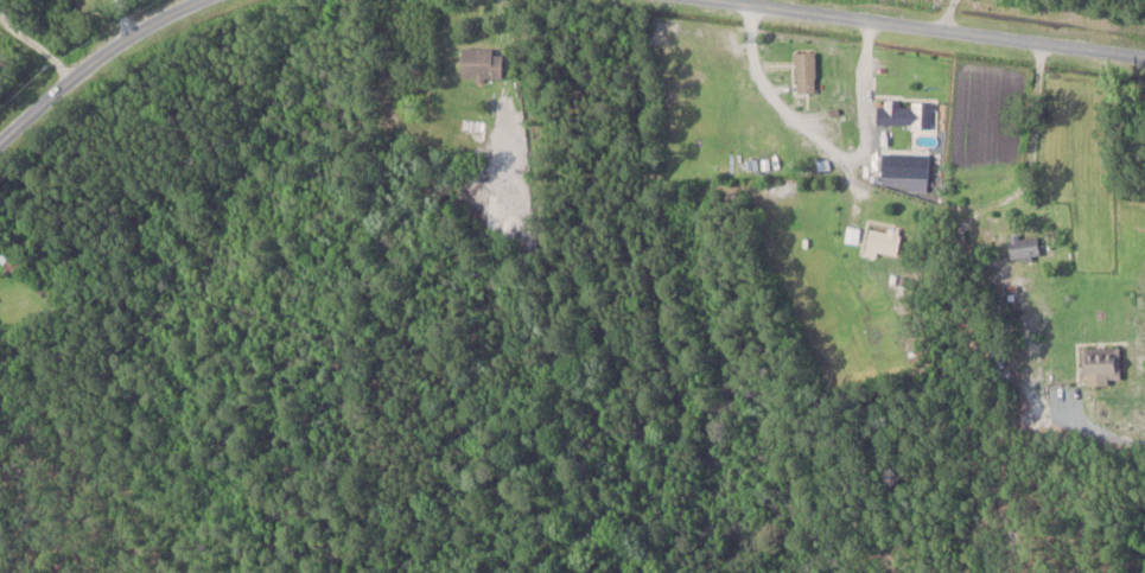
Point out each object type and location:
building: (102, 0)
road: (925, 30)
building: (482, 62)
road: (94, 63)
building: (806, 71)
road: (790, 107)
building: (904, 113)
road: (1026, 178)
building: (884, 241)
building: (1024, 246)
building: (1101, 363)
road: (1094, 428)

